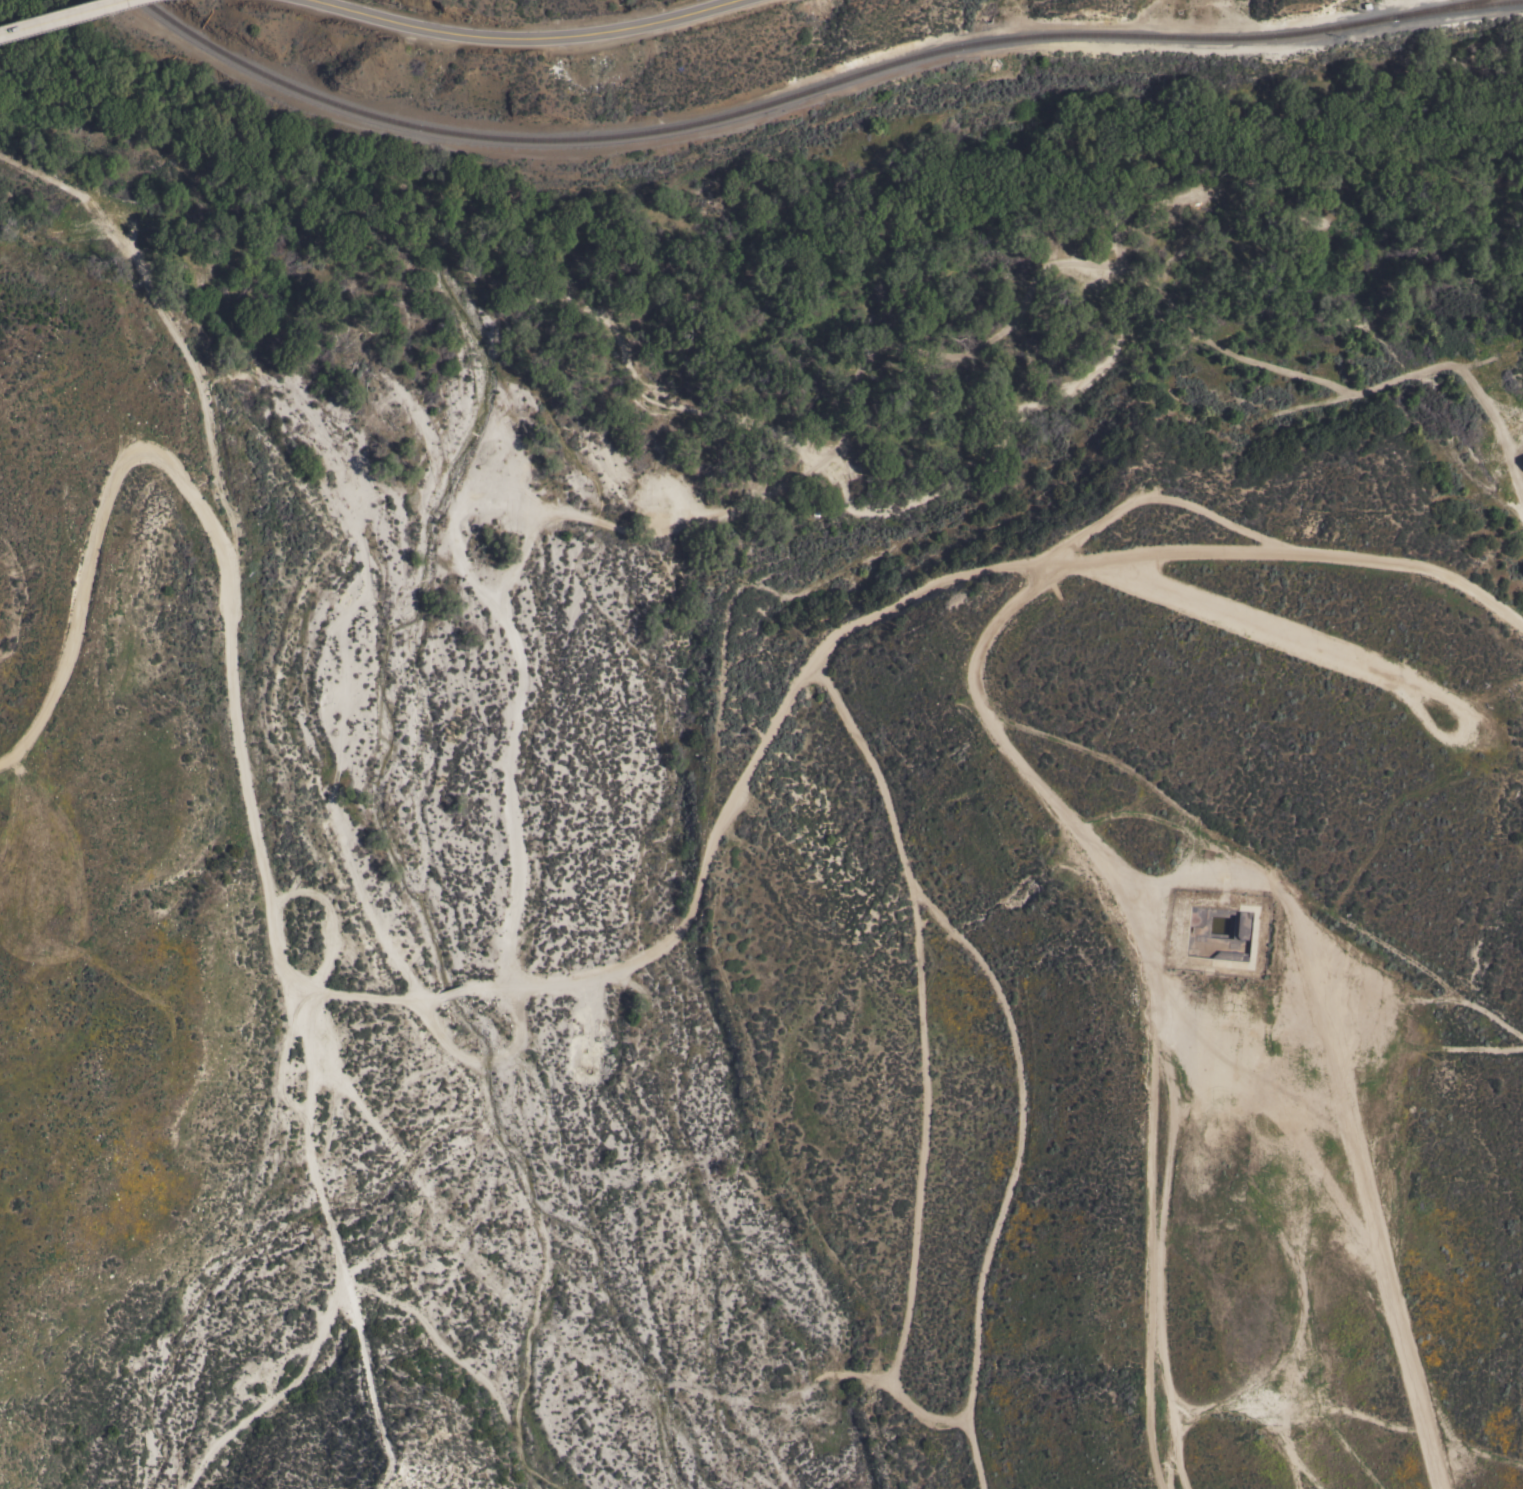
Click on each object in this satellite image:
railway: (1451, 5)
railway: (1472, 5)
road: (62, 15)
railway: (1106, 36)
road: (518, 40)
railway: (455, 135)
road: (185, 346)
building: (1522, 458)
building: (1522, 460)
road: (1219, 623)
road: (1090, 864)
road: (560, 983)
road: (922, 1017)
road: (1147, 1135)
road: (1013, 1173)
road: (1295, 1272)
road: (888, 1392)
road: (1349, 1414)
road: (1445, 1423)
road: (1168, 1471)
road: (1302, 1477)

